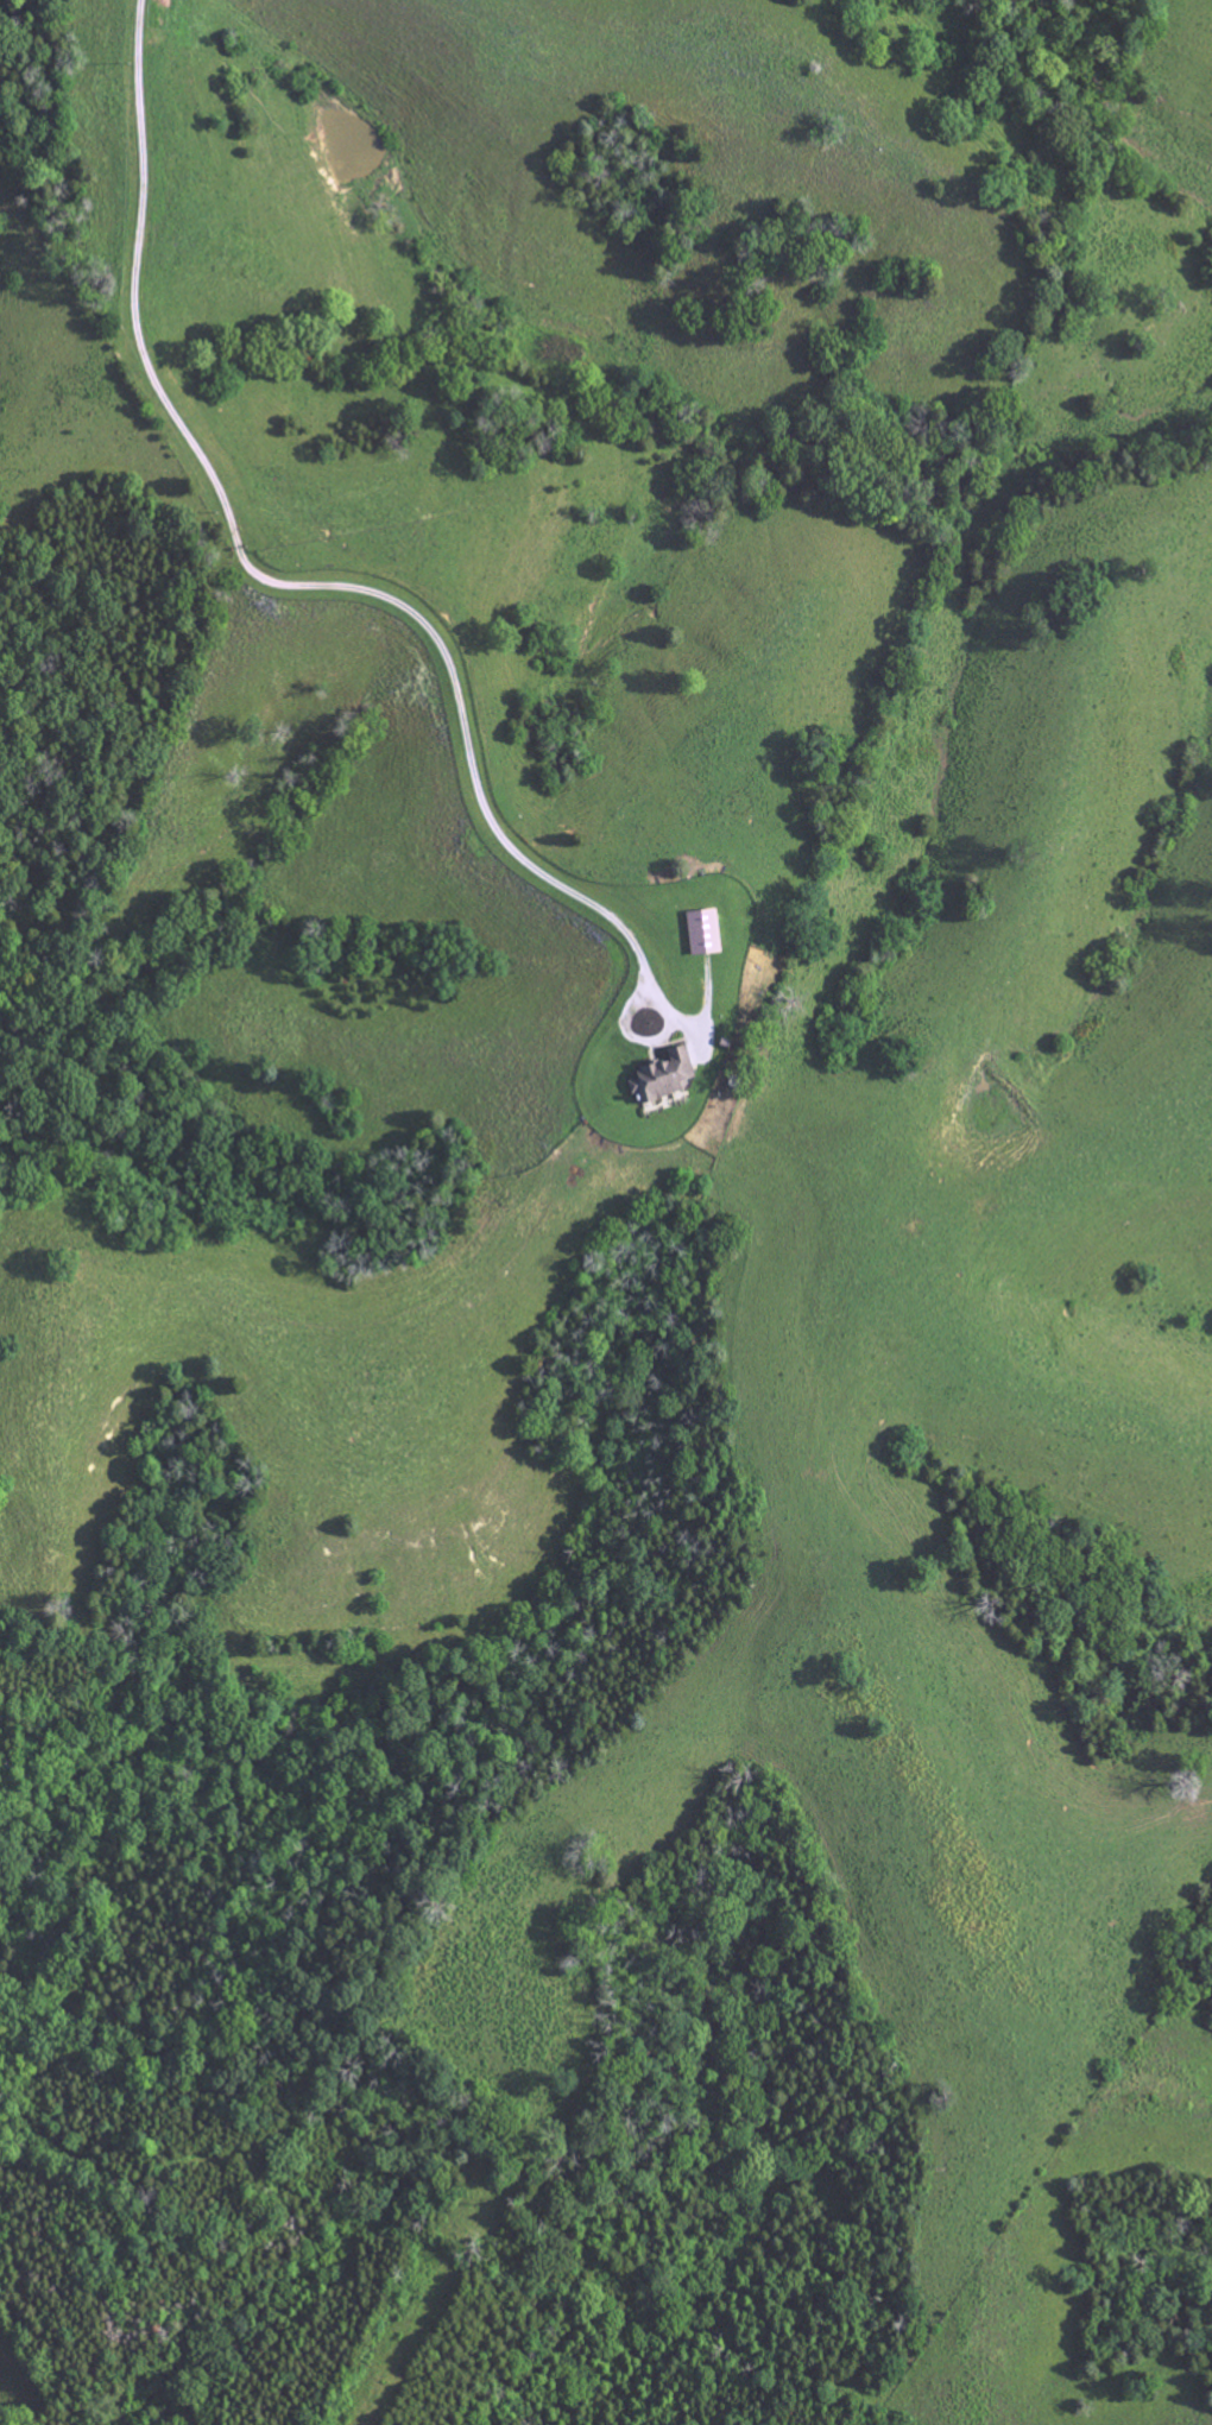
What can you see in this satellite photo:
road: (278, 585)
building: (699, 935)
building: (659, 1079)

